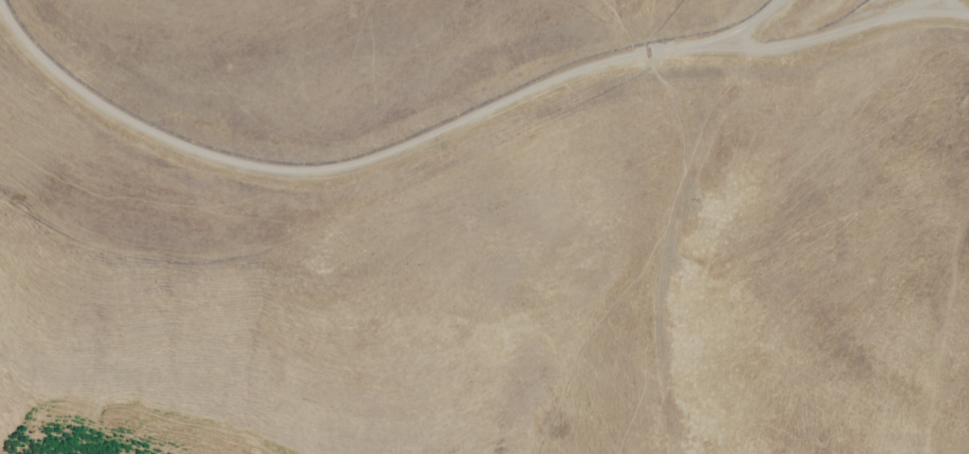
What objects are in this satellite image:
road: (936, 5)
road: (806, 45)
road: (345, 171)

